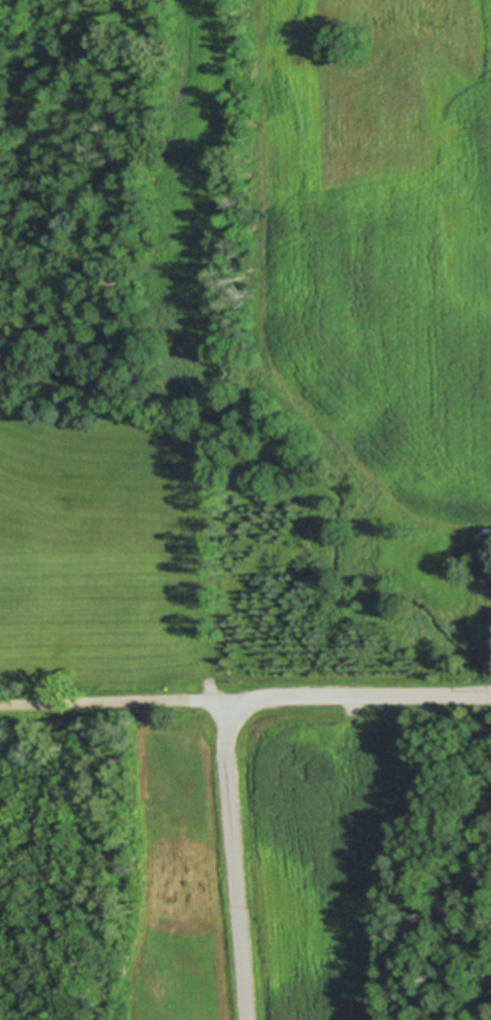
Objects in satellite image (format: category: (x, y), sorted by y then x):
road: (343, 694)
road: (119, 701)
road: (240, 884)

